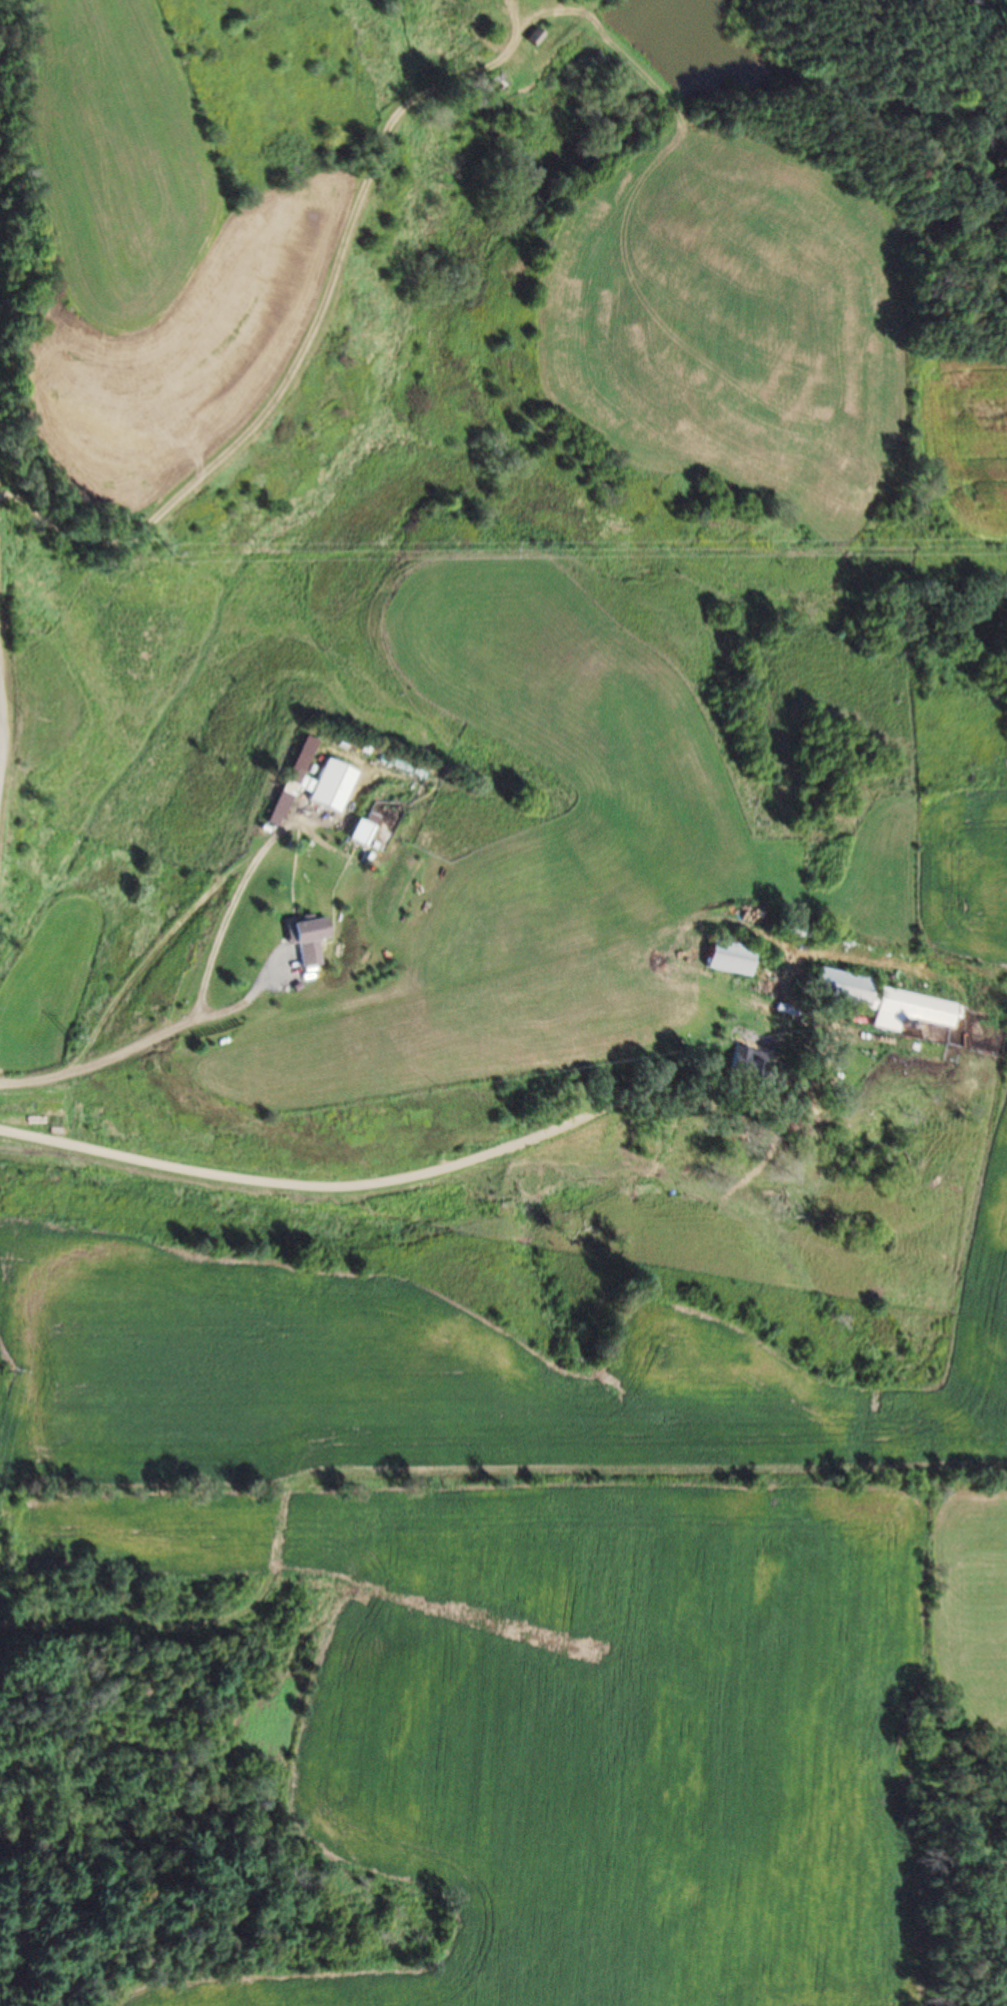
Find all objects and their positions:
building: (532, 37)
building: (494, 81)
road: (266, 405)
building: (331, 786)
building: (281, 796)
building: (306, 938)
building: (725, 957)
building: (874, 997)
building: (742, 1059)
road: (460, 1177)

